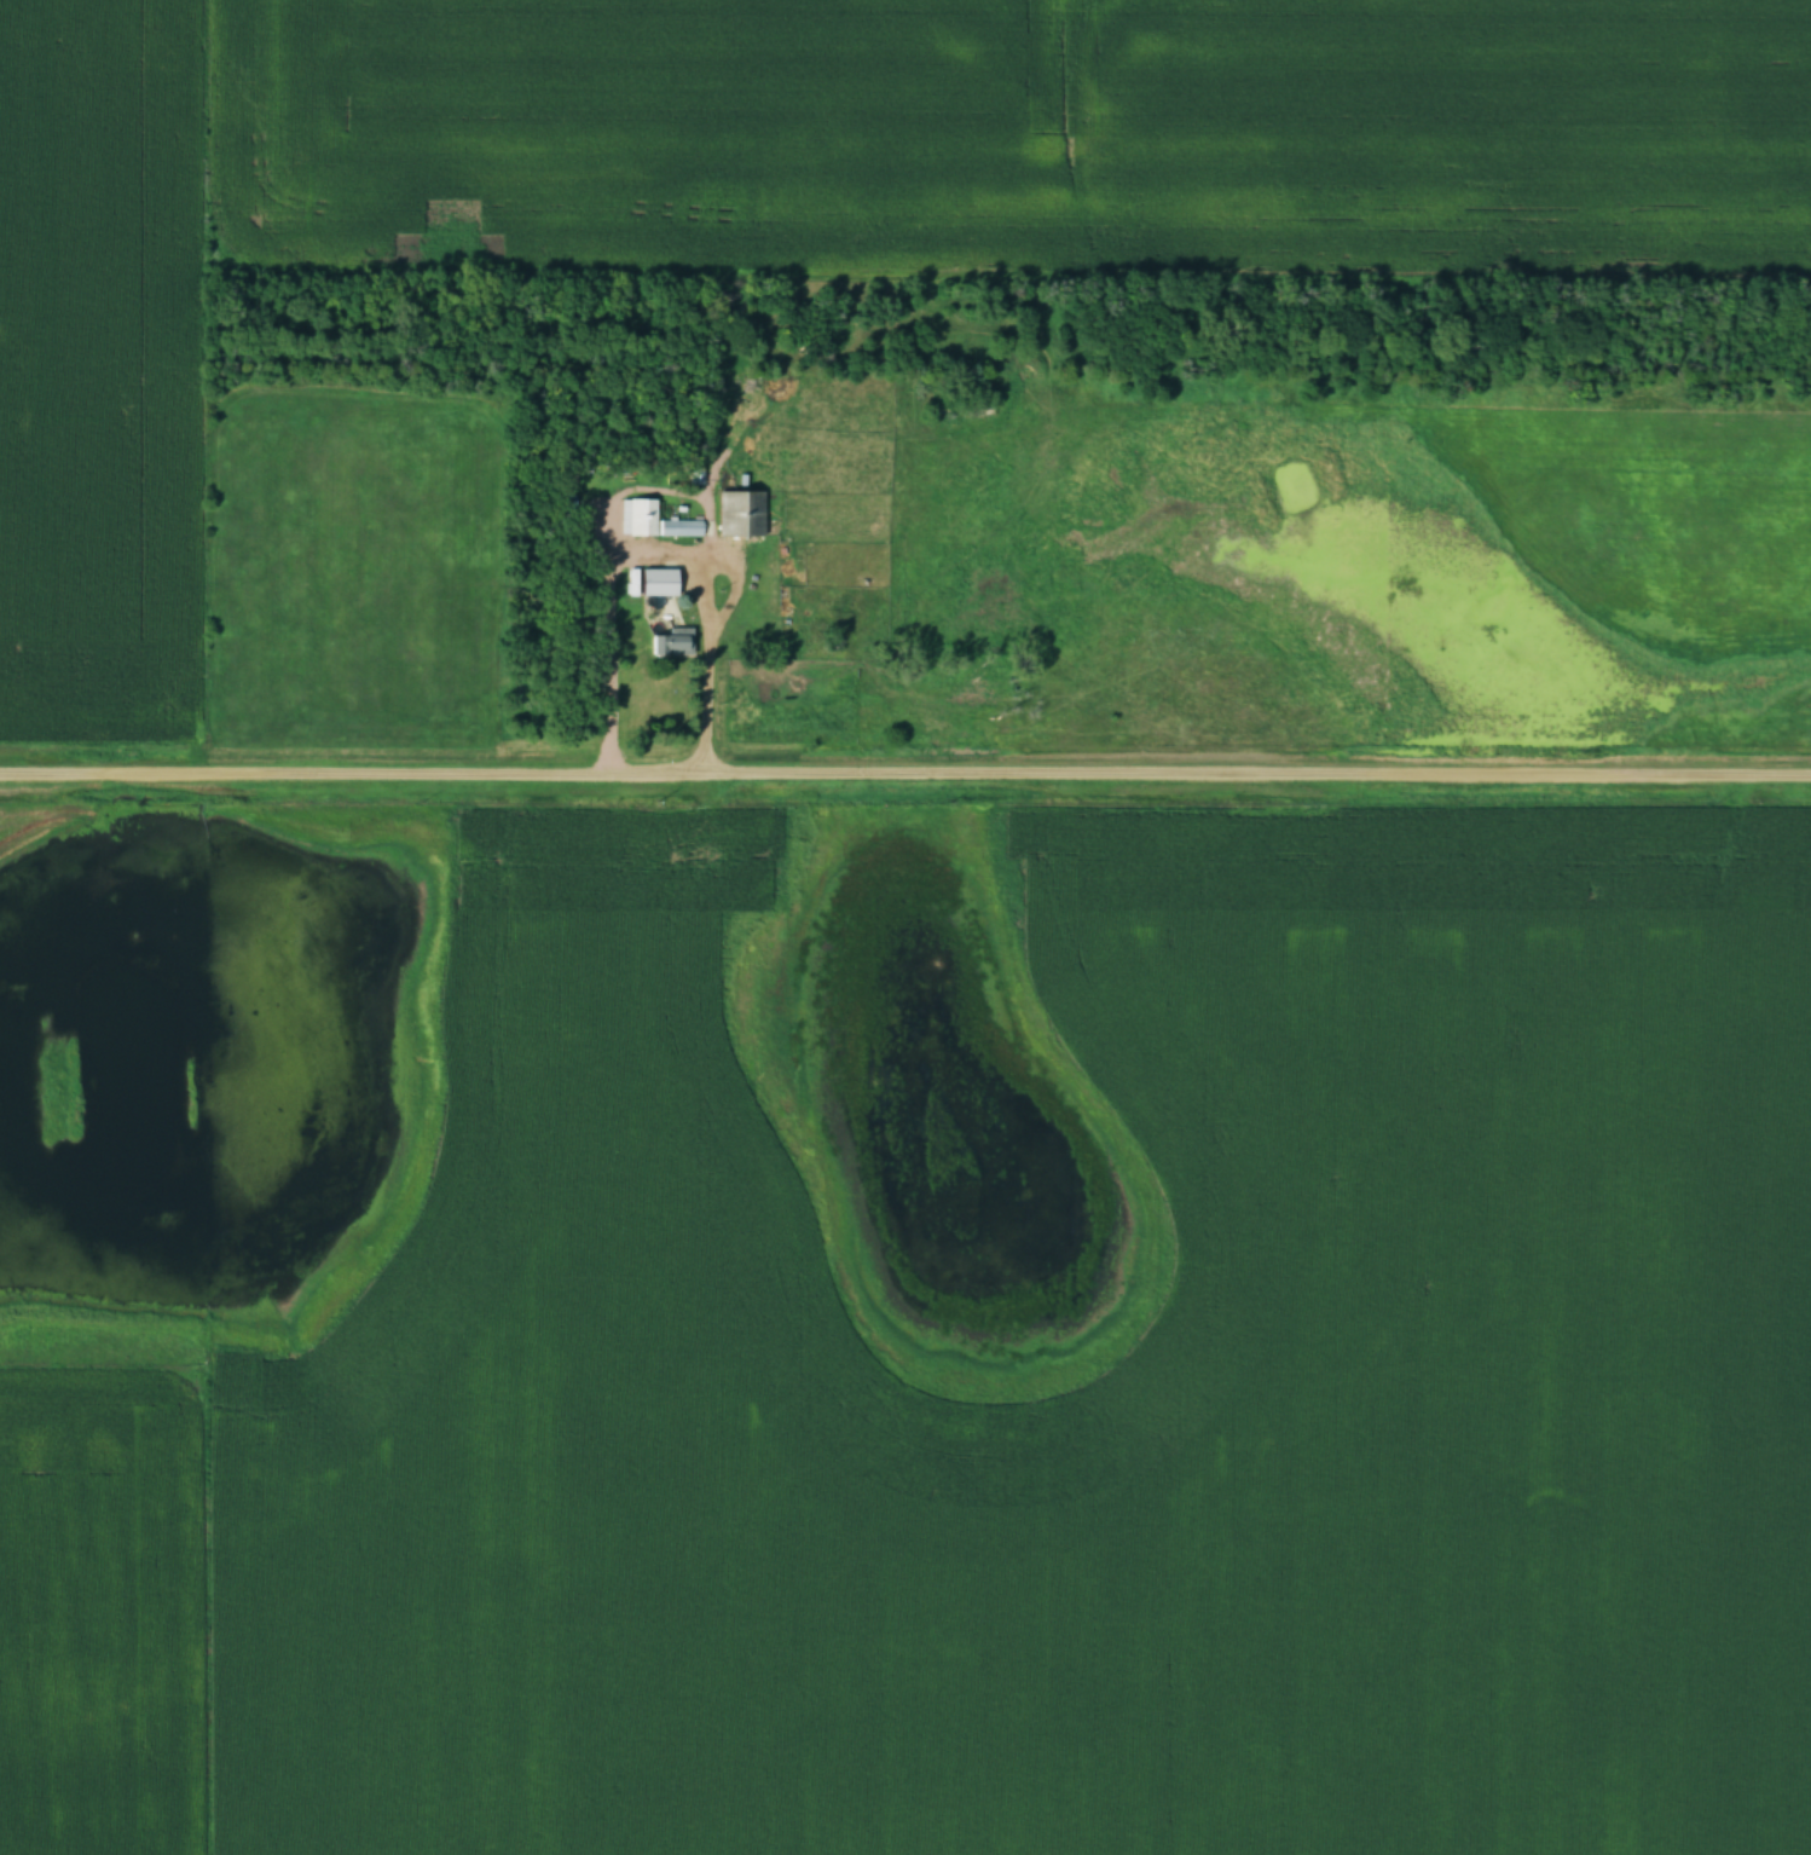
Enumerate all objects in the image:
building: (741, 514)
building: (648, 519)
building: (685, 528)
road: (725, 561)
building: (659, 583)
building: (673, 643)
road: (710, 704)
road: (904, 770)

